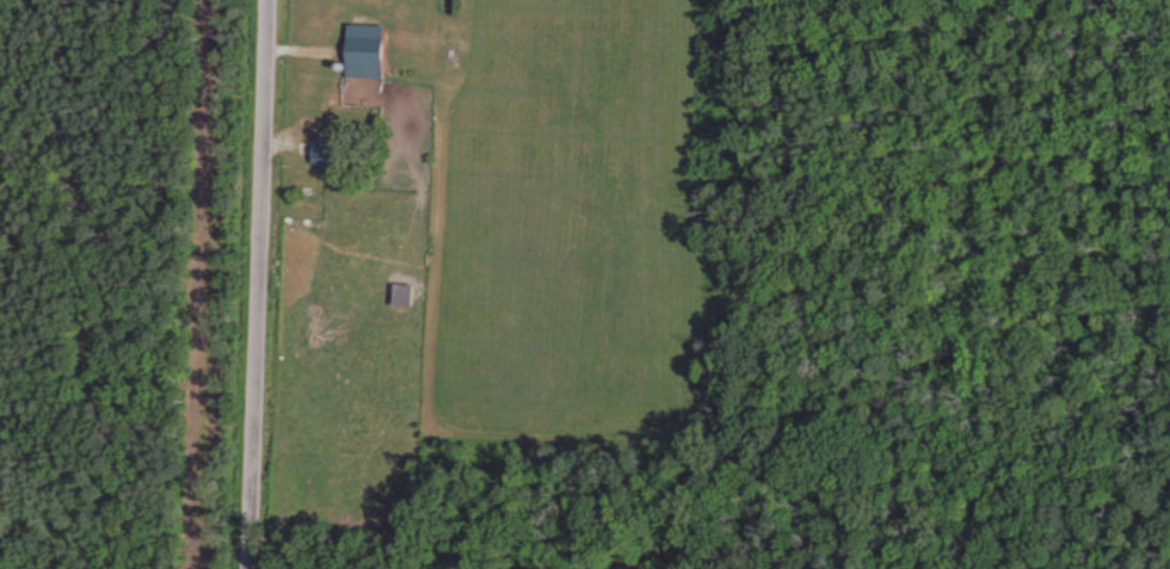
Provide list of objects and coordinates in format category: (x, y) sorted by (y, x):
building: (369, 74)
building: (334, 154)
road: (255, 284)
building: (406, 295)

